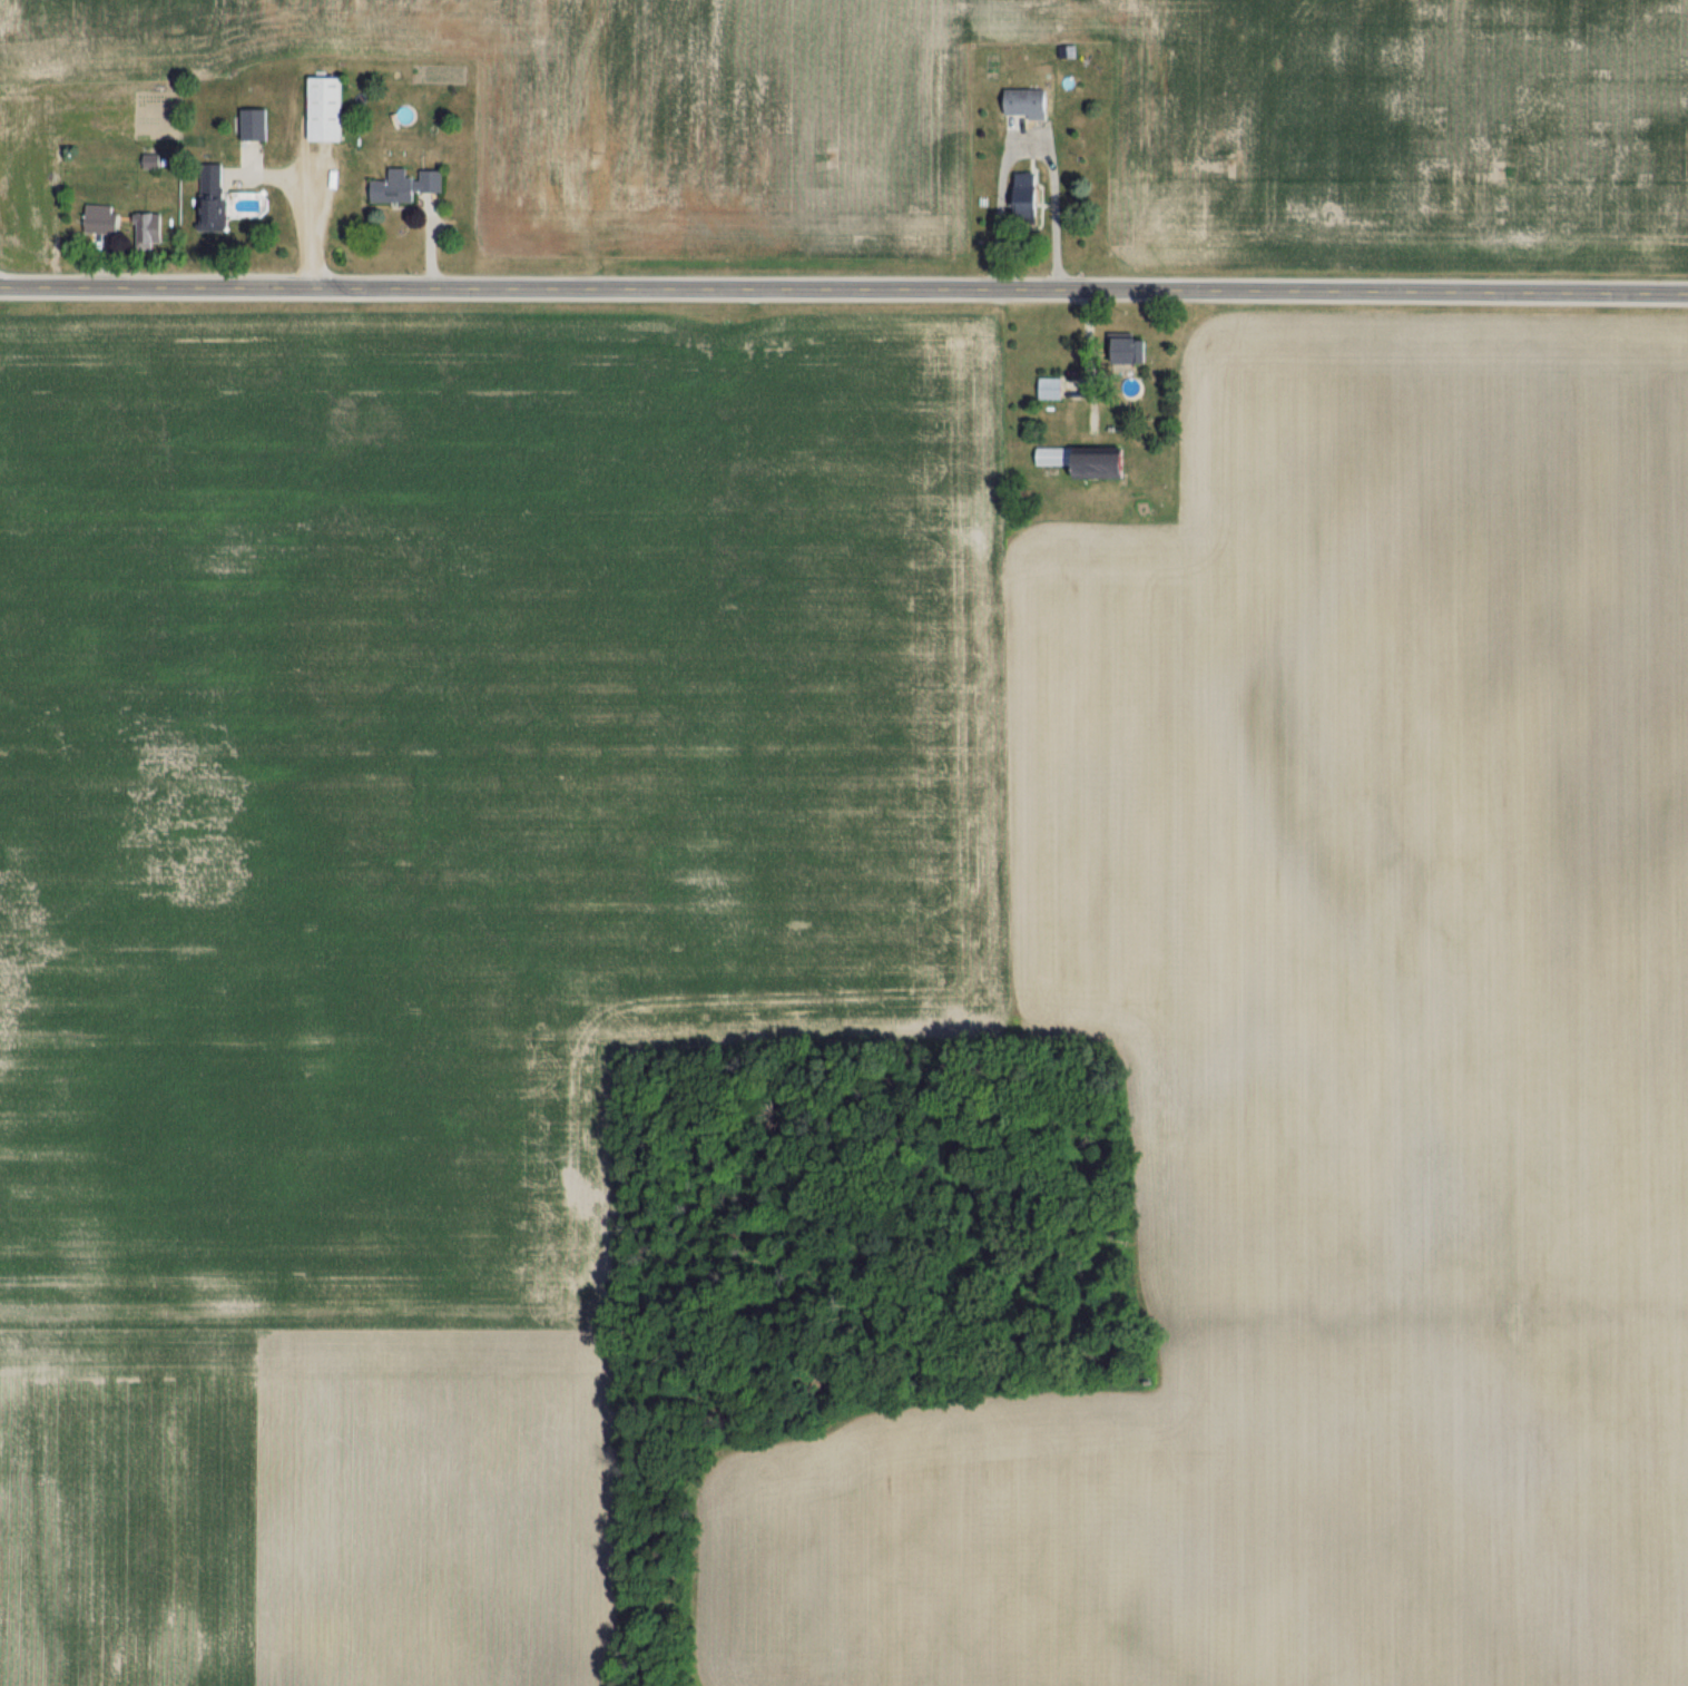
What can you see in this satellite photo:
building: (1028, 102)
building: (327, 108)
building: (255, 124)
road: (1027, 147)
building: (406, 185)
building: (214, 196)
building: (1029, 197)
building: (100, 223)
building: (150, 229)
road: (844, 287)
building: (1127, 350)
building: (1052, 388)
building: (1091, 461)

